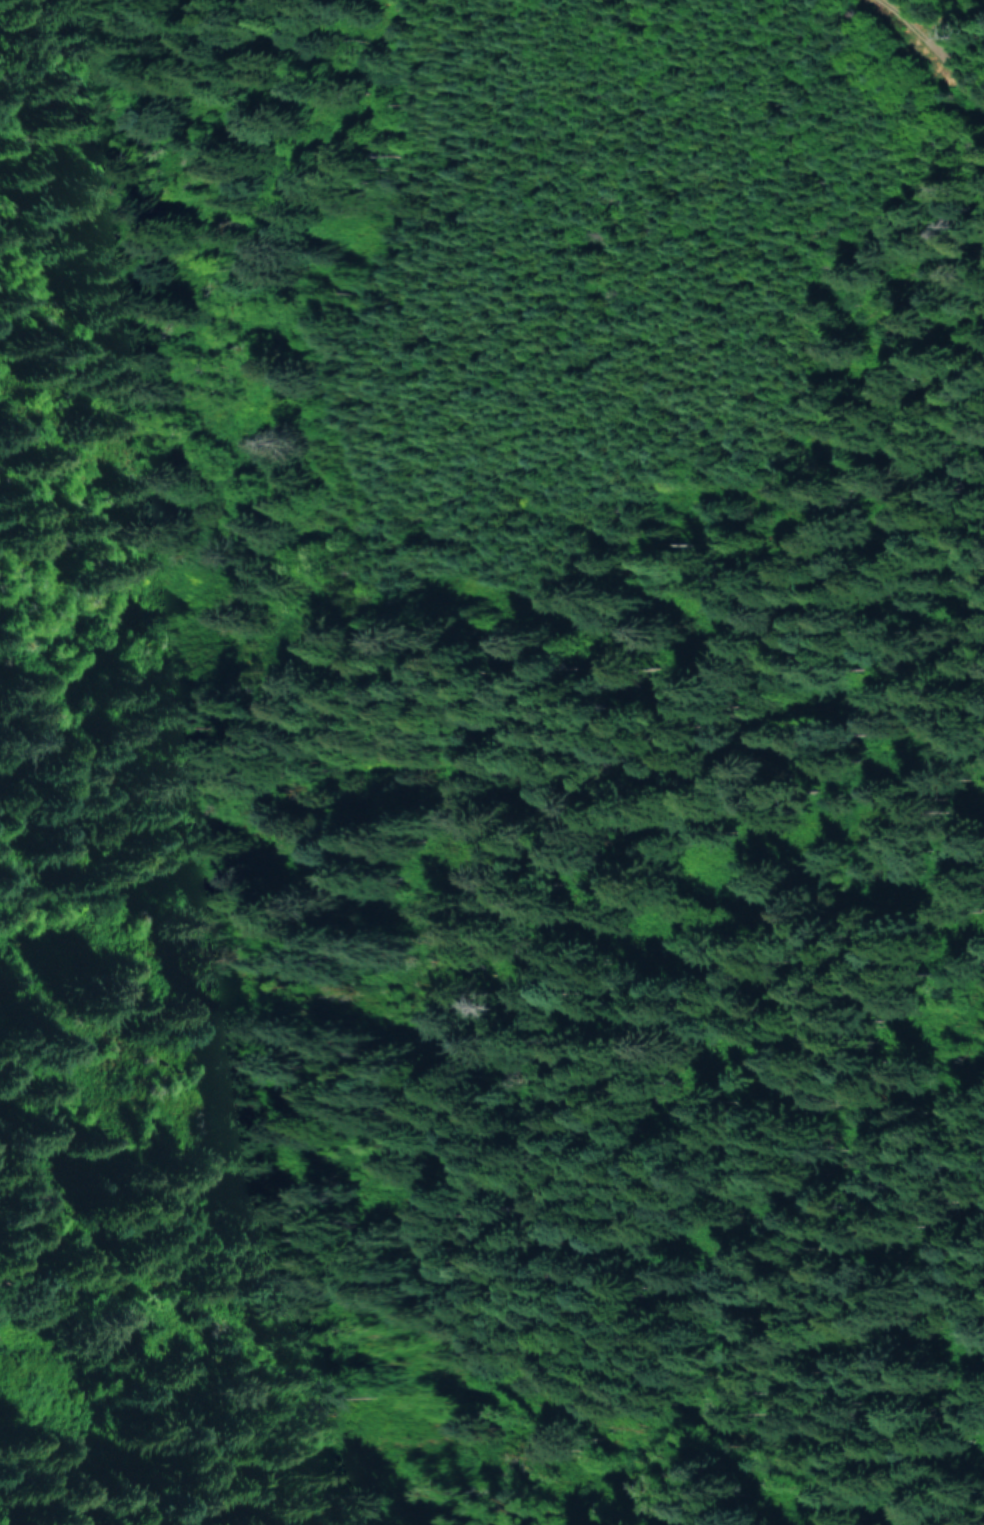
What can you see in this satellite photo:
road: (933, 51)

